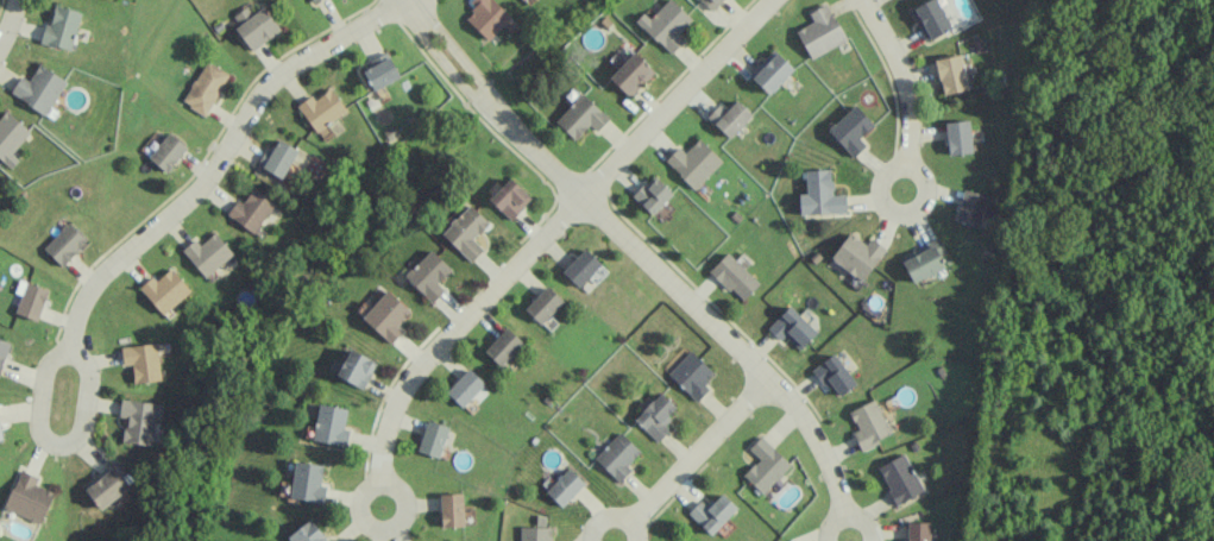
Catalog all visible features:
building: (312, 0)
building: (523, 0)
building: (711, 4)
building: (486, 17)
building: (930, 18)
road: (7, 21)
building: (666, 25)
building: (254, 26)
building: (61, 29)
building: (820, 32)
building: (380, 71)
building: (770, 71)
building: (631, 74)
building: (951, 74)
road: (901, 78)
building: (205, 87)
building: (39, 88)
road: (675, 100)
building: (321, 109)
building: (580, 117)
building: (729, 118)
building: (851, 130)
building: (11, 137)
building: (958, 137)
building: (166, 152)
road: (221, 156)
building: (277, 158)
building: (693, 163)
building: (652, 195)
building: (820, 195)
building: (510, 199)
building: (970, 208)
building: (251, 210)
road: (905, 213)
building: (466, 232)
building: (64, 244)
road: (633, 250)
building: (207, 253)
building: (857, 256)
building: (924, 260)
building: (580, 268)
building: (428, 275)
building: (734, 276)
building: (165, 290)
building: (30, 300)
building: (543, 304)
building: (386, 316)
building: (792, 328)
road: (457, 329)
building: (503, 347)
building: (2, 352)
building: (143, 361)
building: (356, 369)
building: (691, 375)
building: (835, 376)
building: (465, 388)
building: (656, 416)
building: (139, 421)
building: (868, 424)
building: (331, 426)
building: (0, 434)
building: (433, 439)
road: (55, 445)
road: (698, 448)
building: (617, 457)
building: (765, 465)
building: (900, 478)
building: (307, 480)
building: (107, 484)
building: (565, 486)
building: (29, 497)
building: (451, 510)
road: (848, 510)
building: (712, 512)
road: (612, 514)
road: (390, 526)
building: (536, 530)
building: (918, 530)
building: (308, 533)

